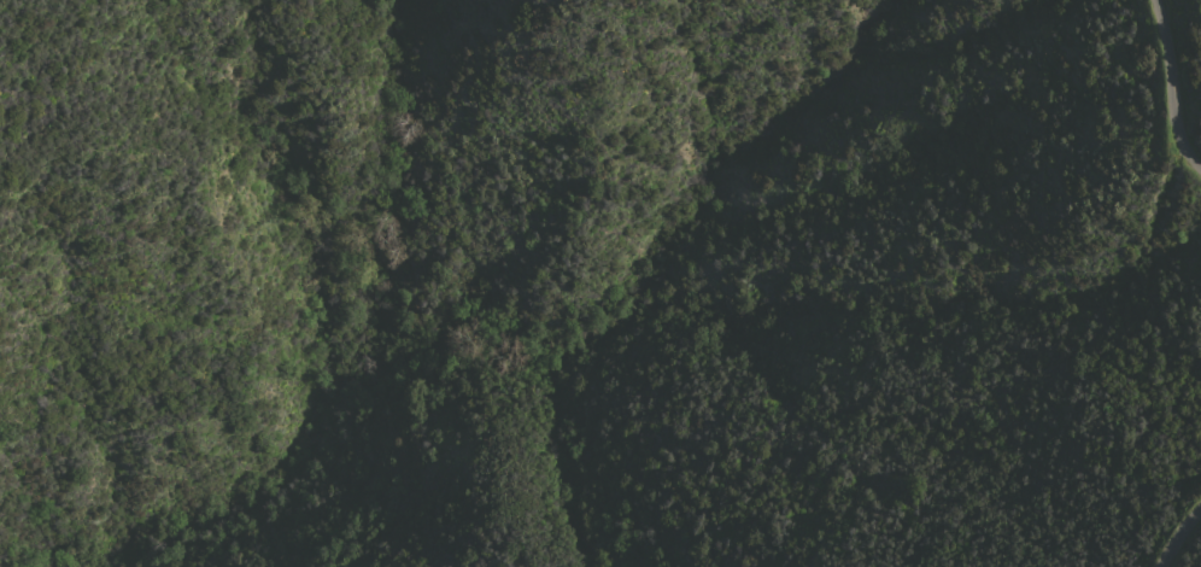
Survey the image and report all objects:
road: (1174, 87)
road: (1178, 536)

